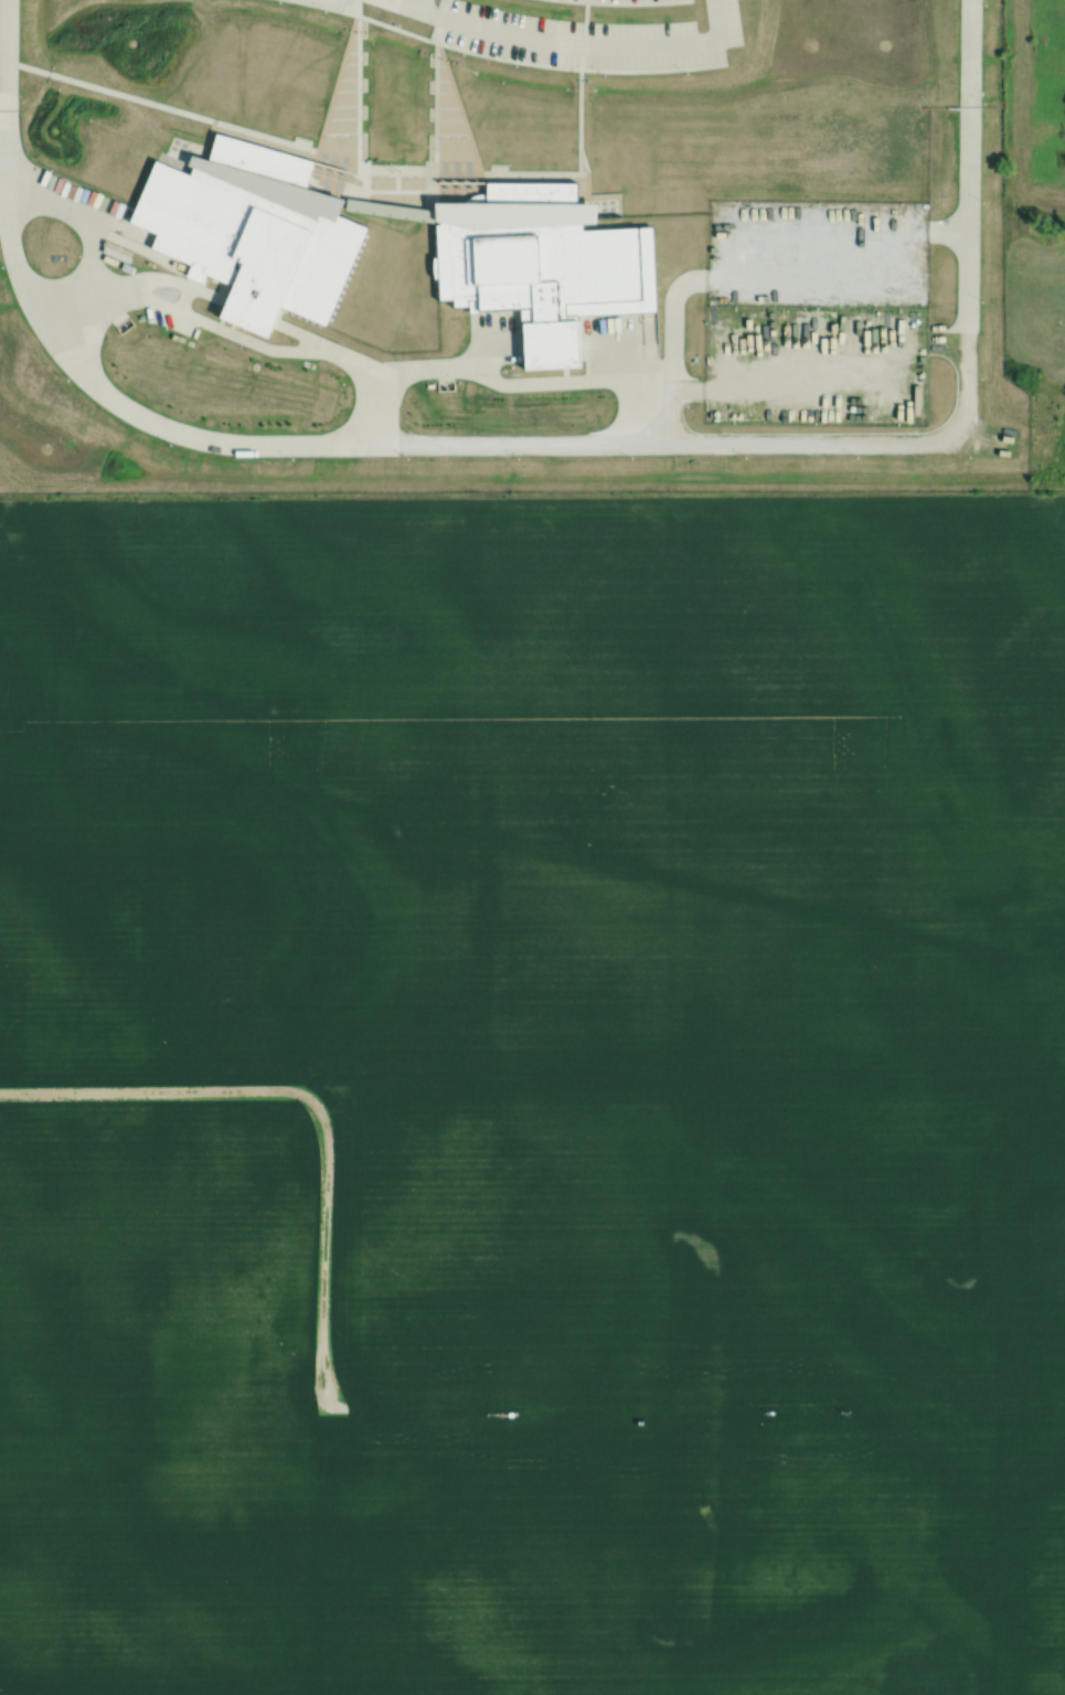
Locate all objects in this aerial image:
parking lot: (622, 0)
road: (416, 3)
parking lot: (328, 4)
road: (718, 15)
parking lot: (567, 39)
road: (1, 83)
building: (248, 223)
building: (551, 258)
road: (617, 438)

